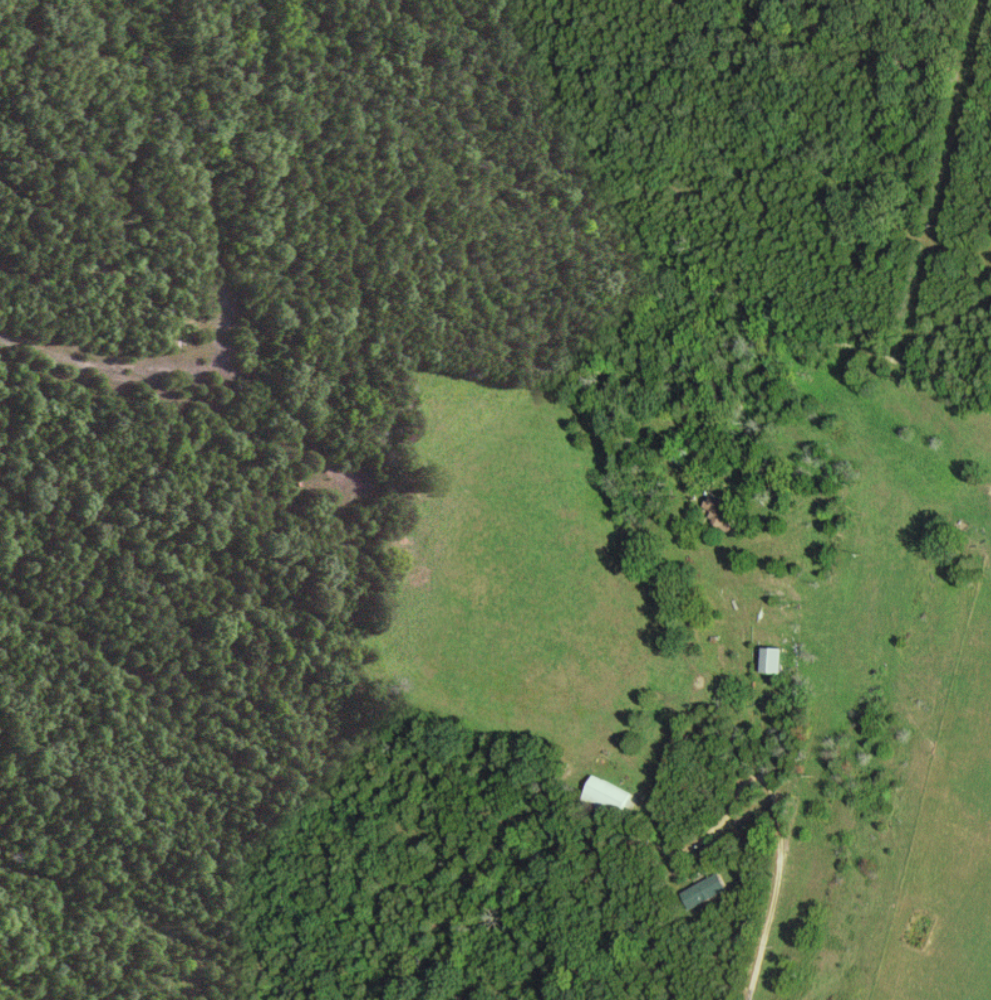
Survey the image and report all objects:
building: (721, 512)
building: (776, 659)
road: (760, 737)
building: (611, 793)
road: (719, 834)
building: (705, 890)

